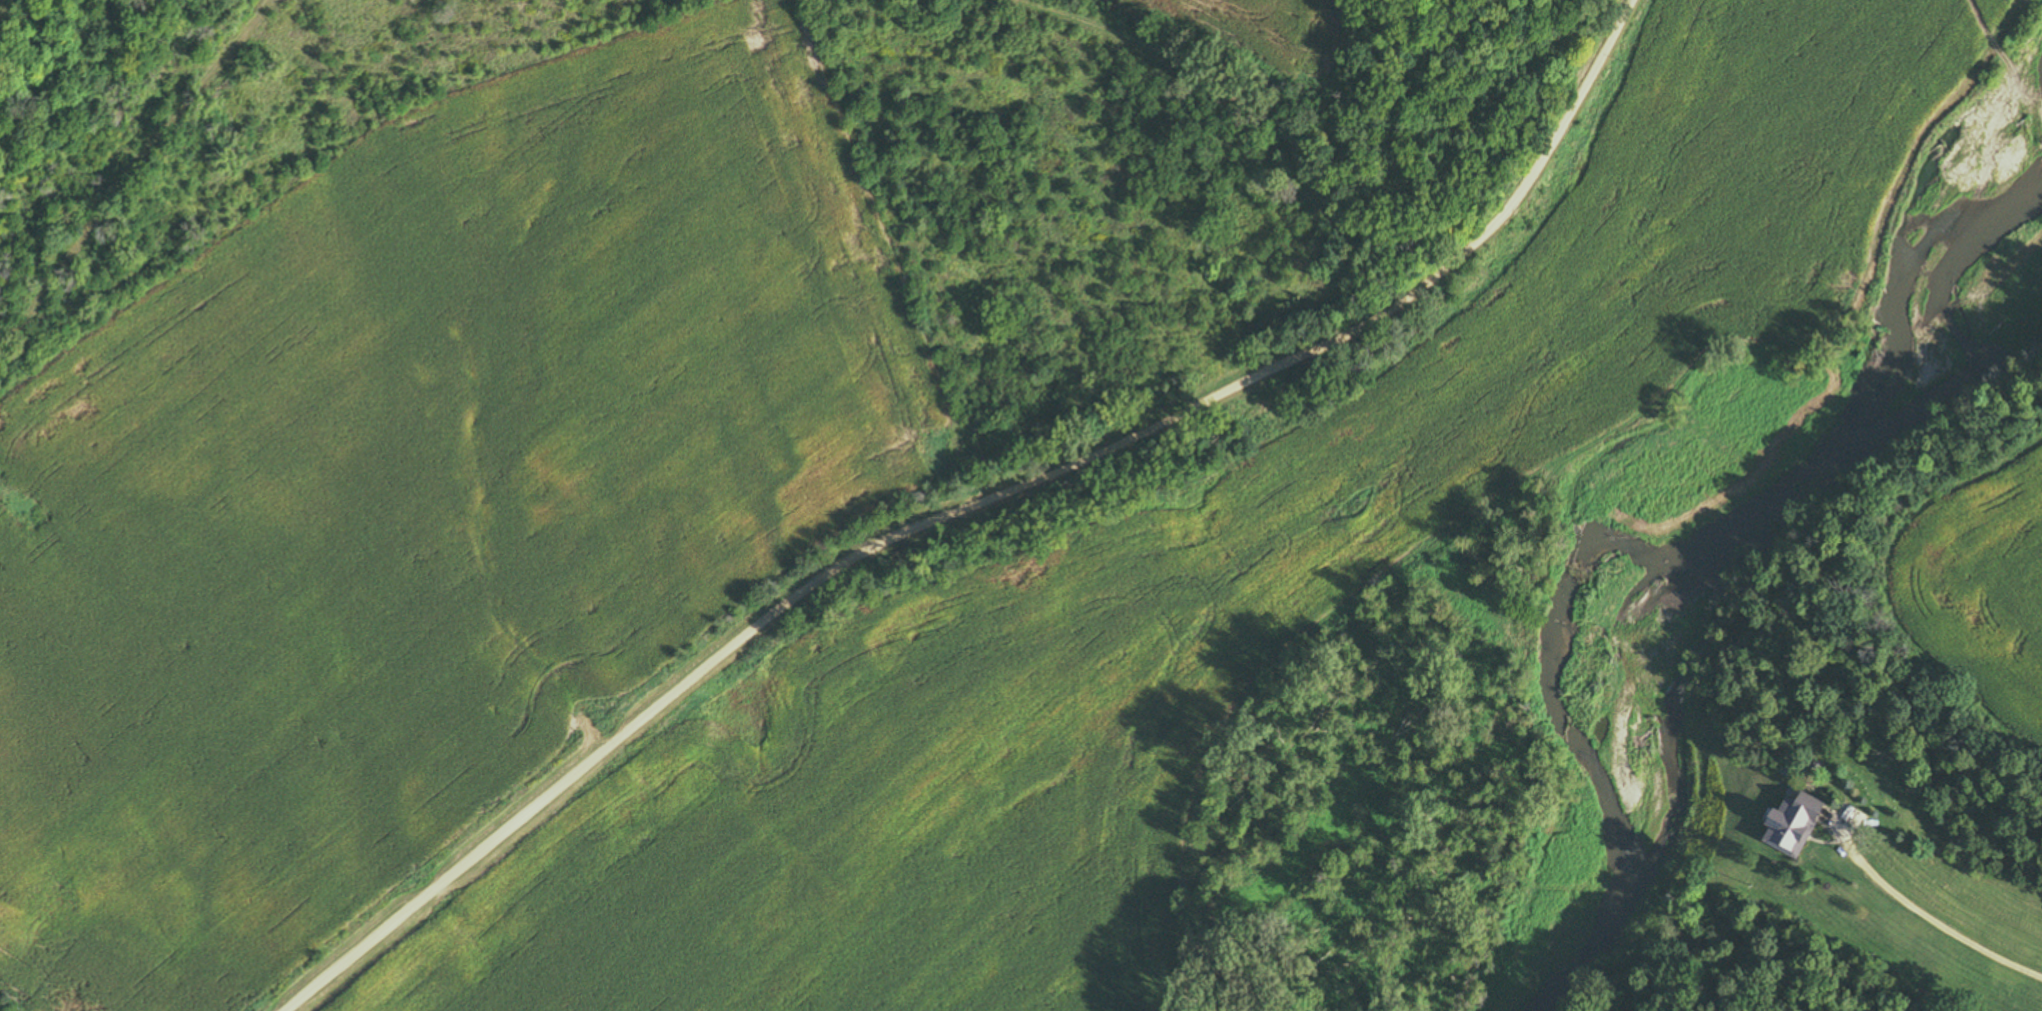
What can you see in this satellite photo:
road: (975, 504)
river: (1708, 530)
building: (1797, 824)
road: (1941, 923)

